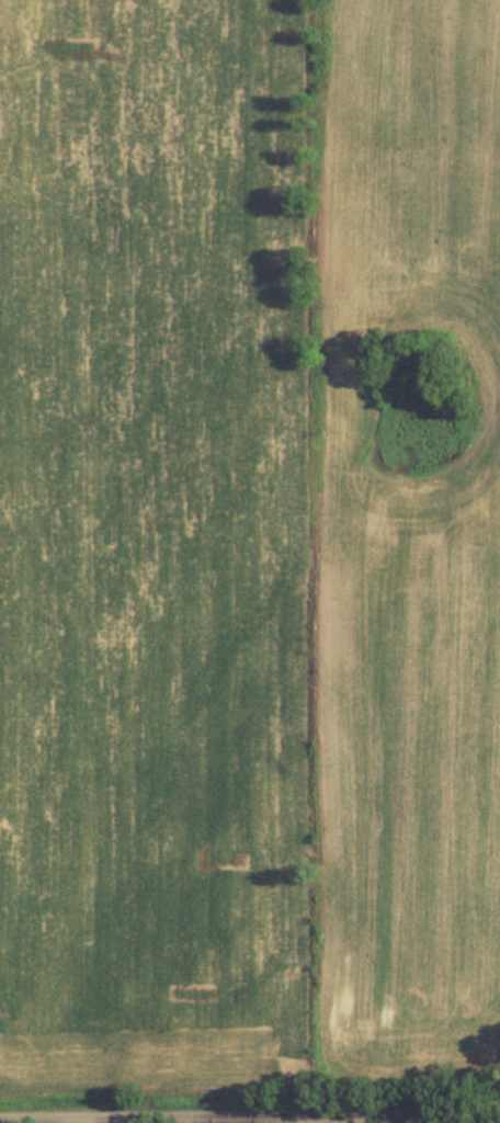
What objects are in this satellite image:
road: (249, 1115)
road: (7, 1122)

